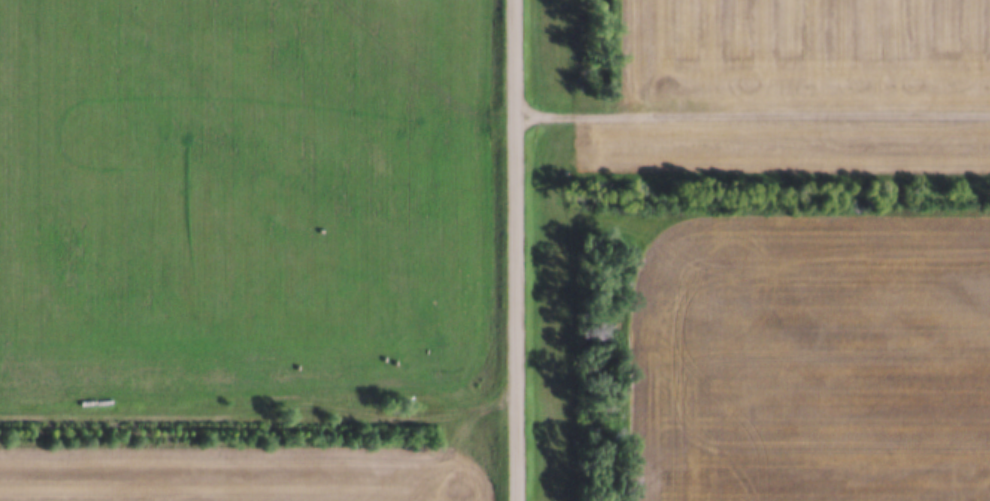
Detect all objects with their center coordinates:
road: (751, 113)
road: (513, 250)

